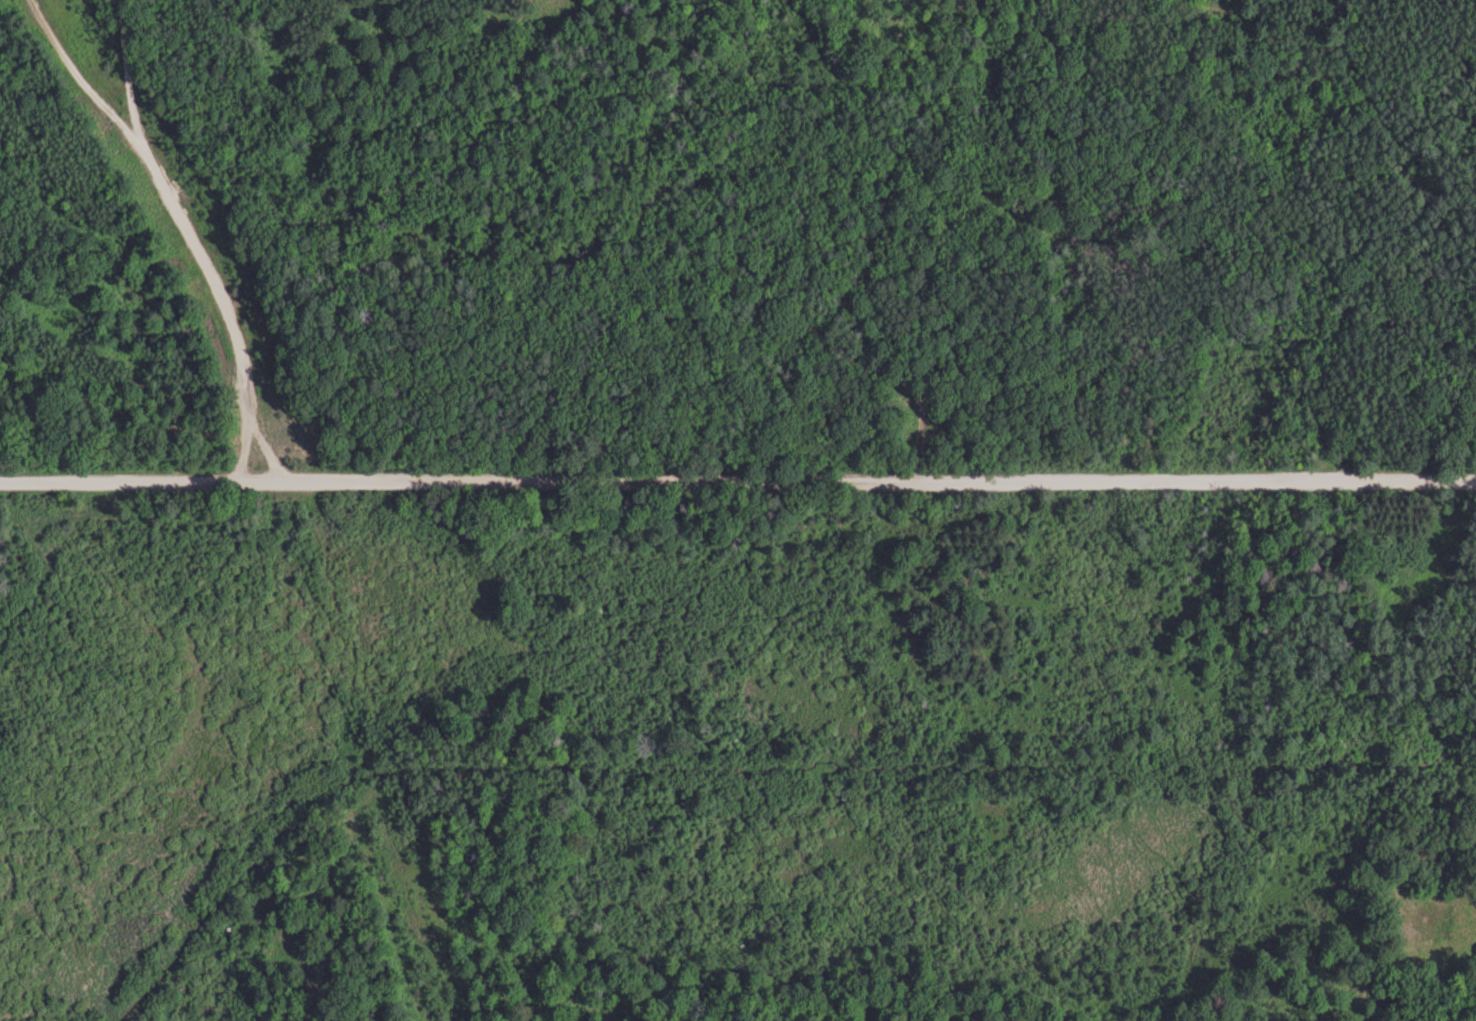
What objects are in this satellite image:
road: (72, 83)
road: (183, 243)
road: (737, 478)

